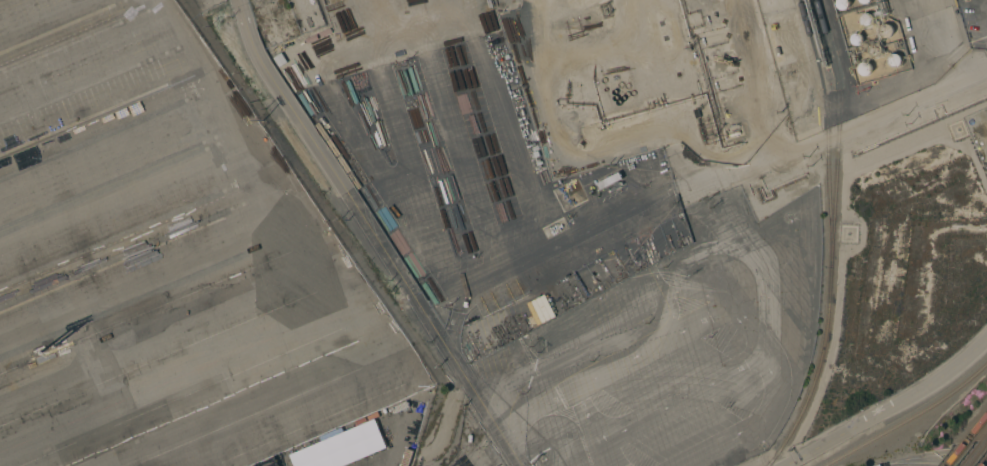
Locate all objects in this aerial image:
building: (819, 15)
building: (866, 20)
building: (885, 30)
road: (370, 31)
building: (828, 45)
building: (875, 50)
building: (893, 59)
petroleum well: (726, 62)
building: (864, 68)
road: (853, 131)
railway: (829, 132)
railway: (840, 132)
road: (576, 156)
road: (373, 235)
road: (549, 249)
railway: (818, 372)
road: (893, 407)
railway: (910, 420)
railway: (977, 429)
railway: (976, 453)
railway: (958, 454)
railway: (986, 464)
road: (986, 465)

